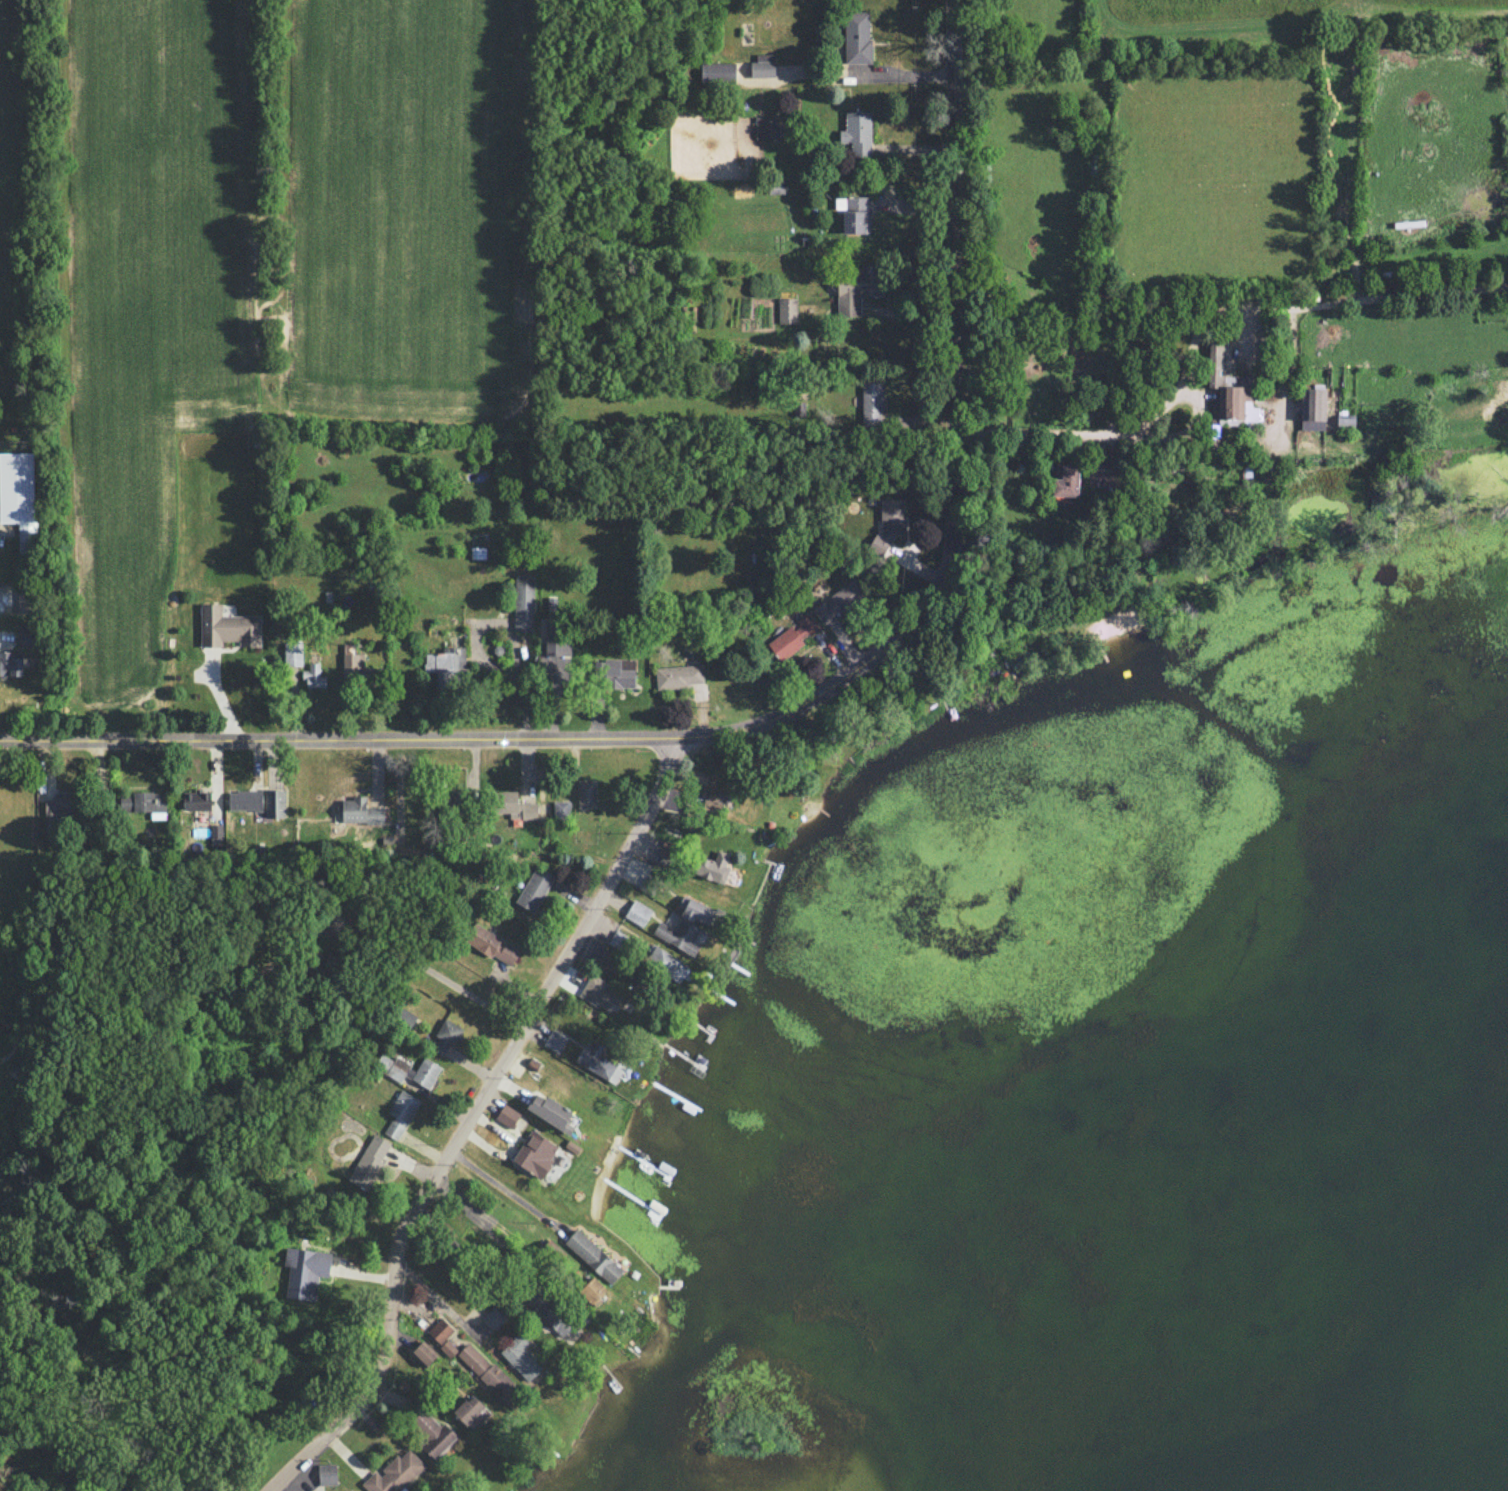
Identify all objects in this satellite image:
building: (856, 37)
building: (762, 65)
building: (717, 72)
building: (768, 127)
building: (857, 133)
building: (856, 214)
building: (856, 289)
building: (787, 310)
road: (1200, 322)
road: (1290, 376)
building: (1229, 386)
building: (872, 403)
building: (1312, 408)
building: (1344, 421)
road: (953, 456)
building: (1066, 482)
building: (18, 496)
building: (888, 524)
building: (839, 601)
building: (523, 604)
building: (227, 627)
building: (25, 635)
building: (793, 637)
building: (293, 653)
building: (11, 662)
building: (354, 665)
building: (446, 665)
building: (614, 672)
building: (679, 675)
building: (313, 676)
road: (334, 733)
building: (699, 776)
building: (586, 793)
building: (196, 799)
building: (714, 799)
building: (244, 800)
building: (453, 800)
building: (145, 803)
building: (274, 803)
building: (512, 805)
building: (57, 806)
building: (560, 810)
building: (360, 811)
building: (216, 834)
building: (712, 866)
building: (534, 889)
building: (698, 911)
building: (637, 912)
building: (678, 935)
building: (620, 939)
building: (492, 944)
building: (608, 959)
building: (667, 964)
road: (427, 967)
building: (596, 992)
building: (404, 1017)
building: (445, 1036)
building: (554, 1040)
building: (597, 1061)
building: (550, 1111)
building: (400, 1113)
building: (507, 1115)
road: (465, 1120)
building: (535, 1153)
building: (368, 1161)
road: (504, 1188)
road: (489, 1226)
building: (593, 1256)
building: (304, 1271)
building: (592, 1290)
road: (436, 1296)
building: (545, 1311)
building: (493, 1317)
building: (442, 1333)
building: (448, 1348)
building: (424, 1353)
building: (520, 1356)
building: (487, 1372)
building: (471, 1412)
building: (433, 1433)
building: (394, 1473)
building: (326, 1474)
building: (351, 1490)

